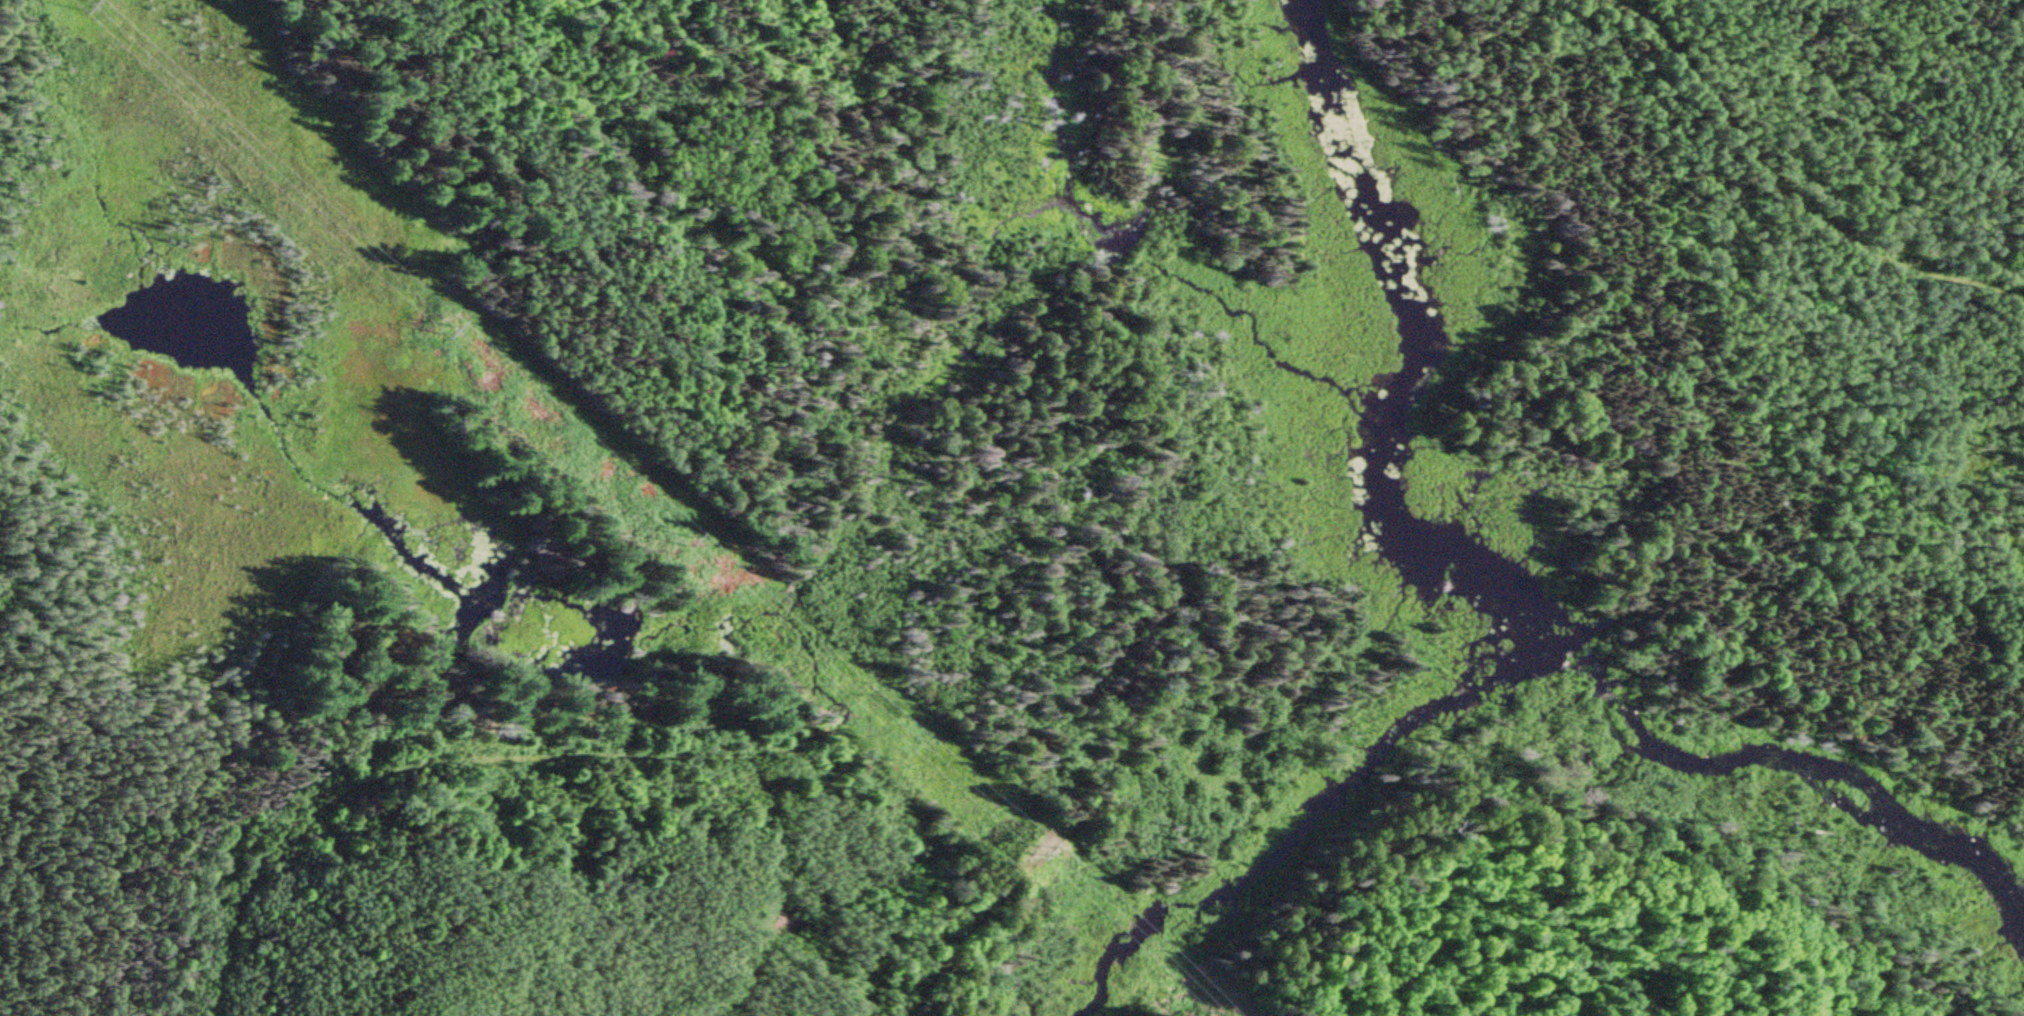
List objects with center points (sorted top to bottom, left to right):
river: (1369, 205)
river: (1381, 404)
river: (1412, 548)
river: (1527, 646)
river: (1775, 759)
power tower: (1212, 1002)

